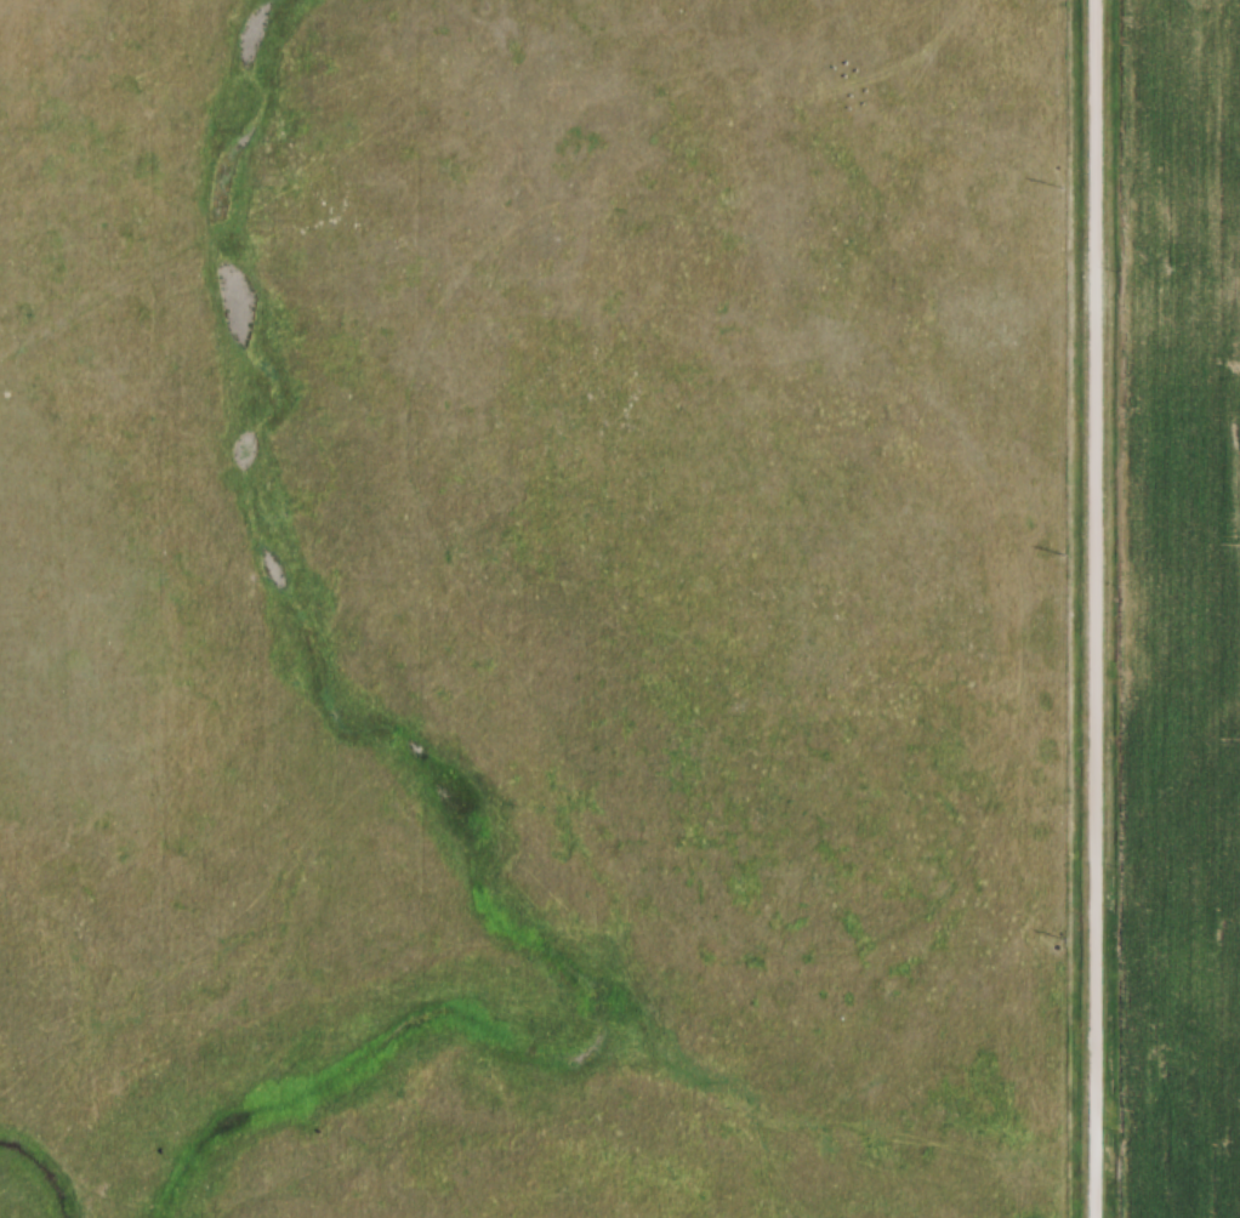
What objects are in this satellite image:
road: (1096, 609)

